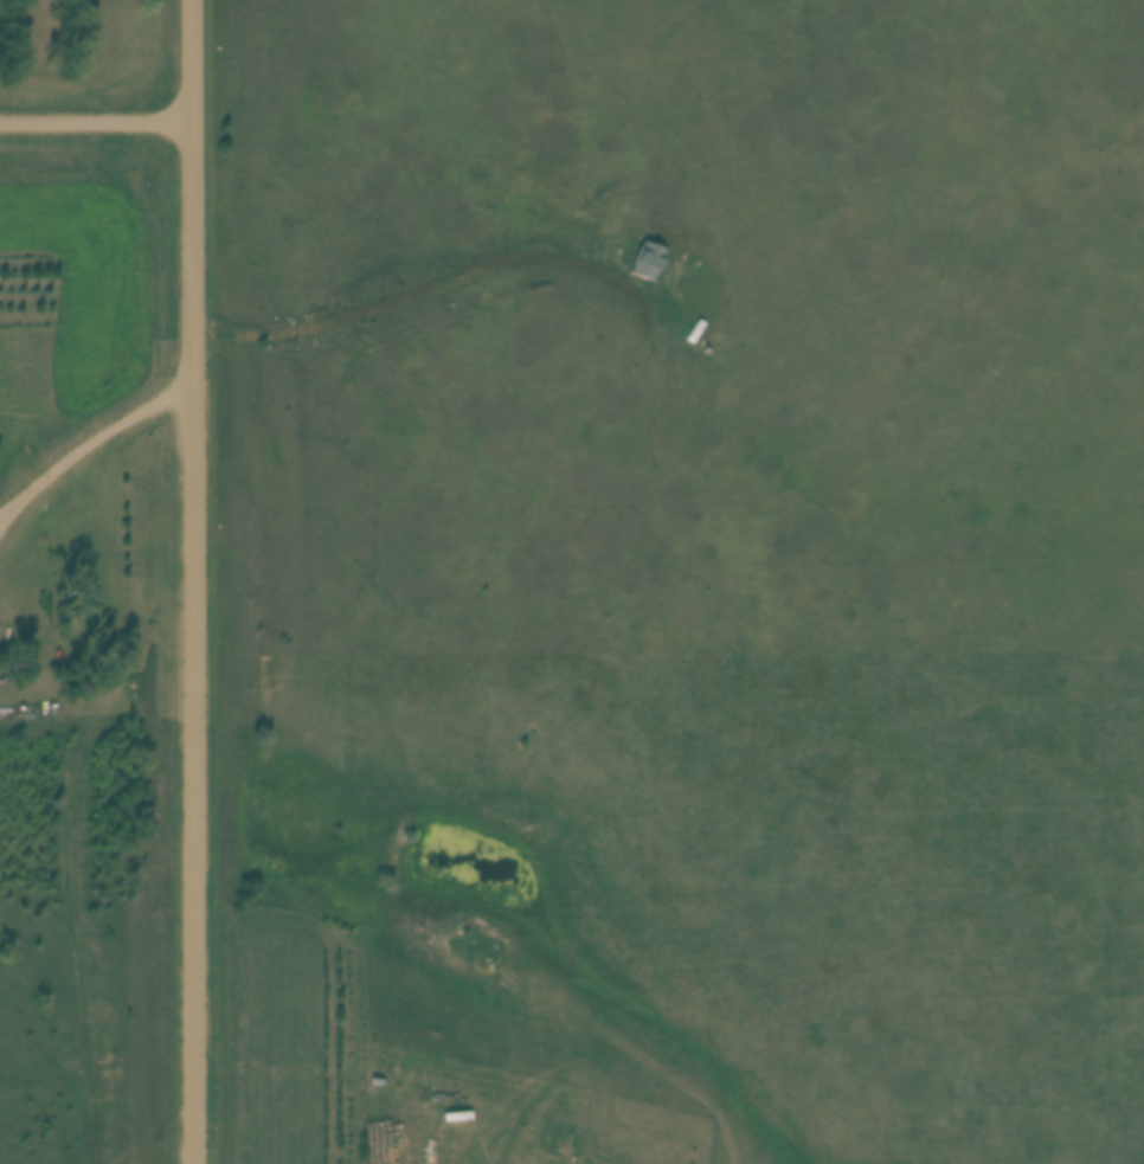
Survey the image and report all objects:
road: (94, 118)
building: (644, 263)
road: (90, 433)
road: (189, 581)

